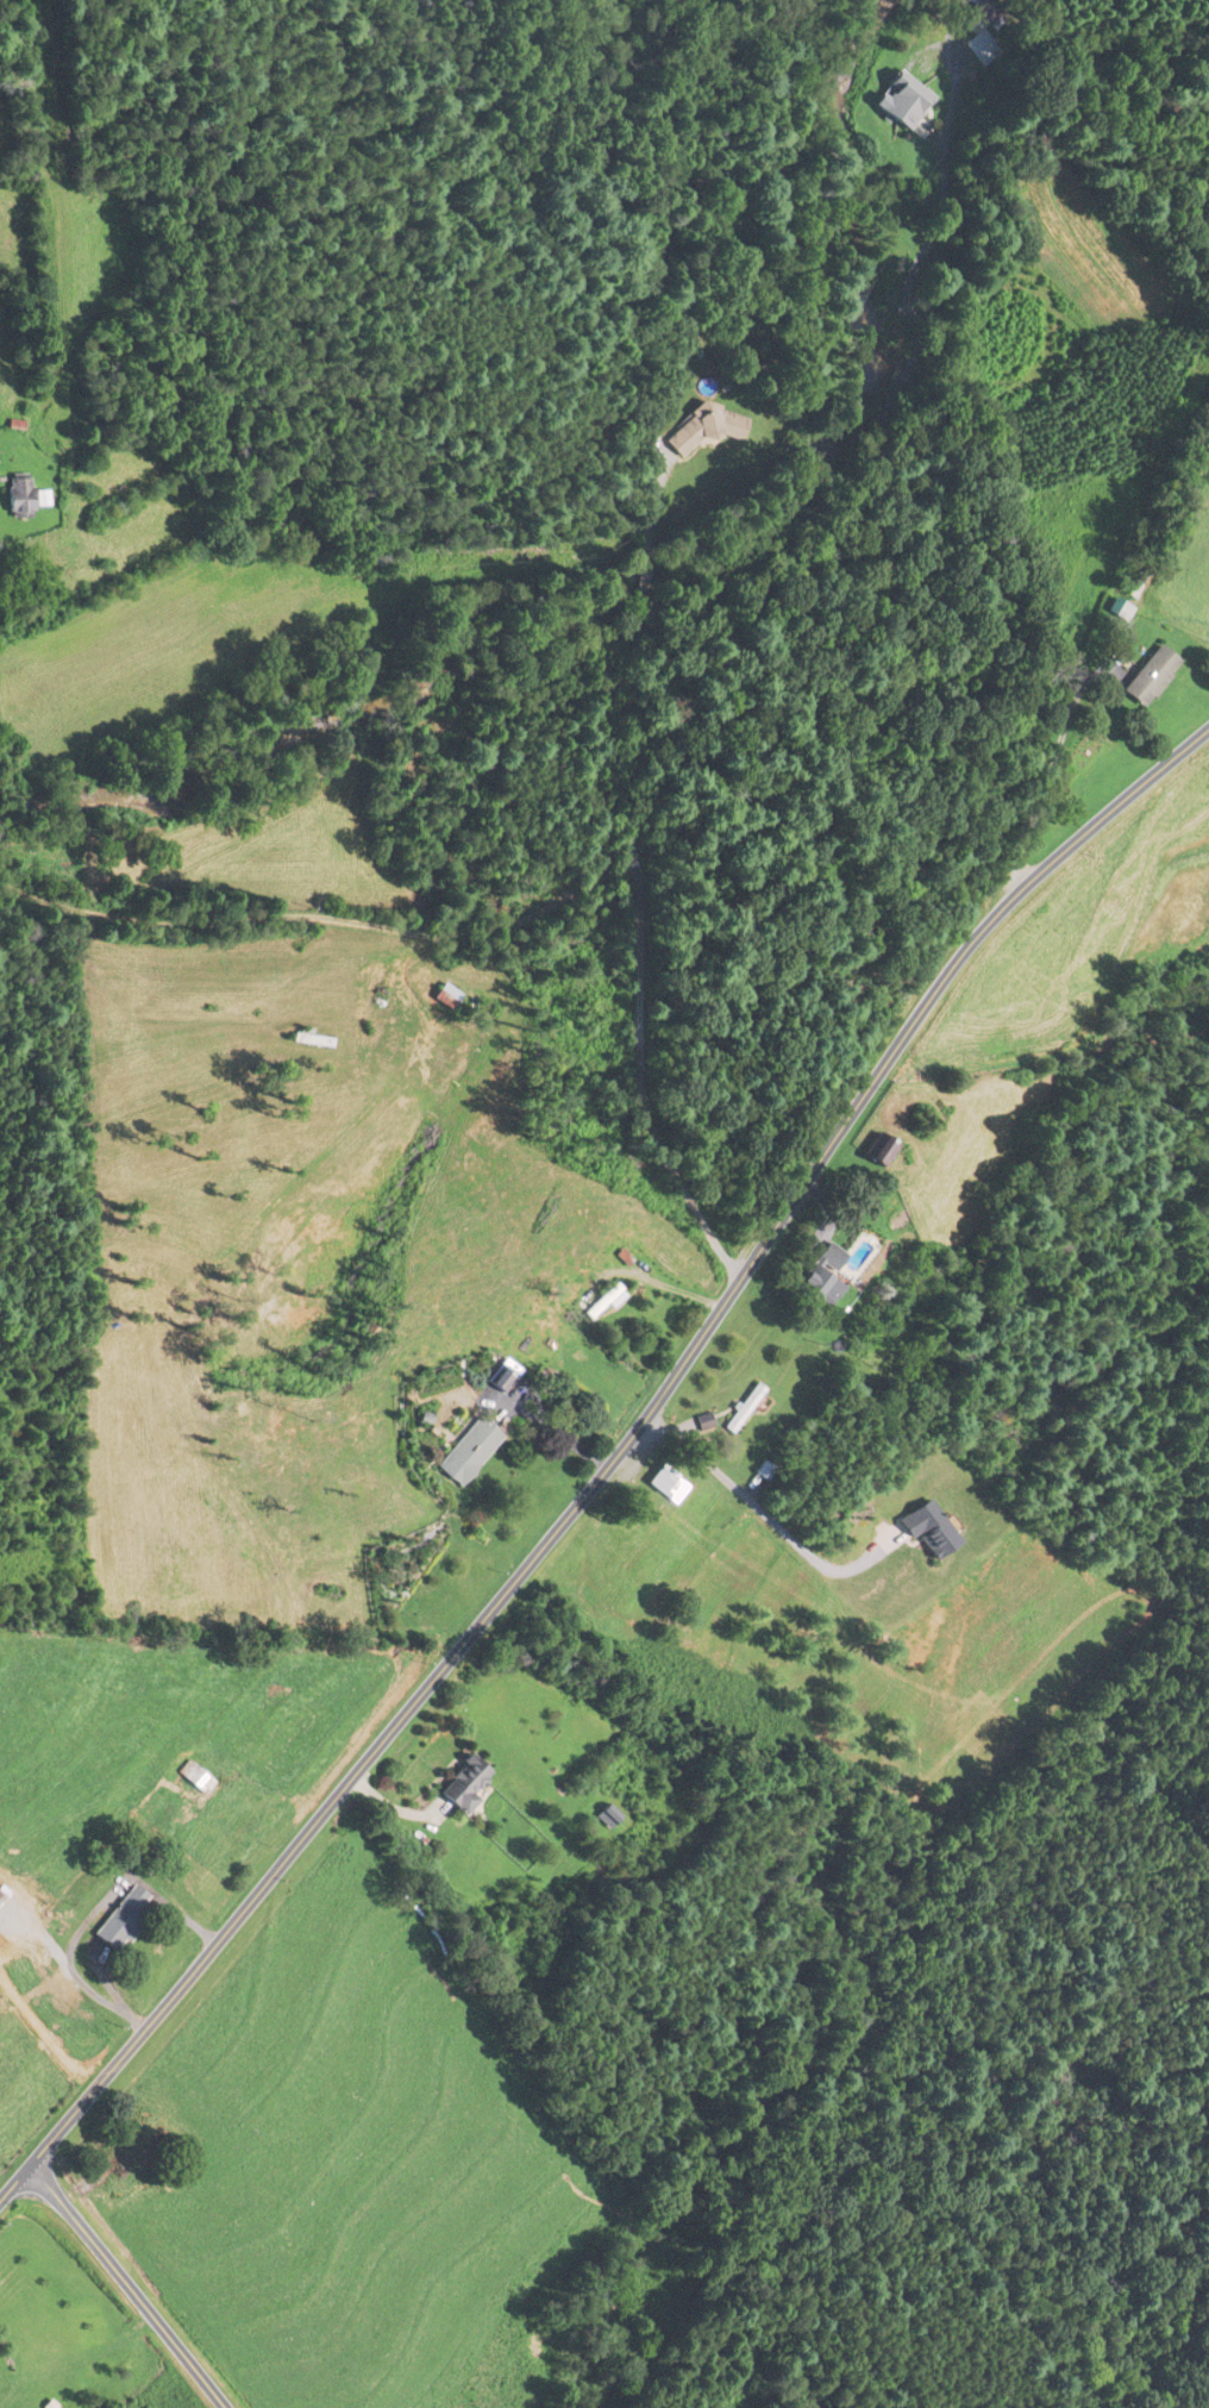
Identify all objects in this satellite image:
building: (983, 12)
building: (902, 101)
building: (723, 246)
road: (876, 415)
building: (707, 426)
building: (18, 500)
building: (40, 500)
road: (645, 533)
river: (620, 580)
building: (1119, 609)
building: (1150, 676)
road: (629, 733)
road: (901, 758)
road: (302, 892)
building: (449, 997)
building: (314, 1042)
building: (884, 1152)
building: (818, 1286)
building: (604, 1303)
building: (743, 1408)
road: (551, 1432)
building: (469, 1452)
road: (609, 1462)
building: (663, 1482)
road: (754, 1506)
building: (194, 1777)
building: (462, 1784)
building: (606, 1816)
road: (93, 1912)
building: (121, 1918)
building: (163, 2147)
road: (125, 2285)
building: (49, 2404)

